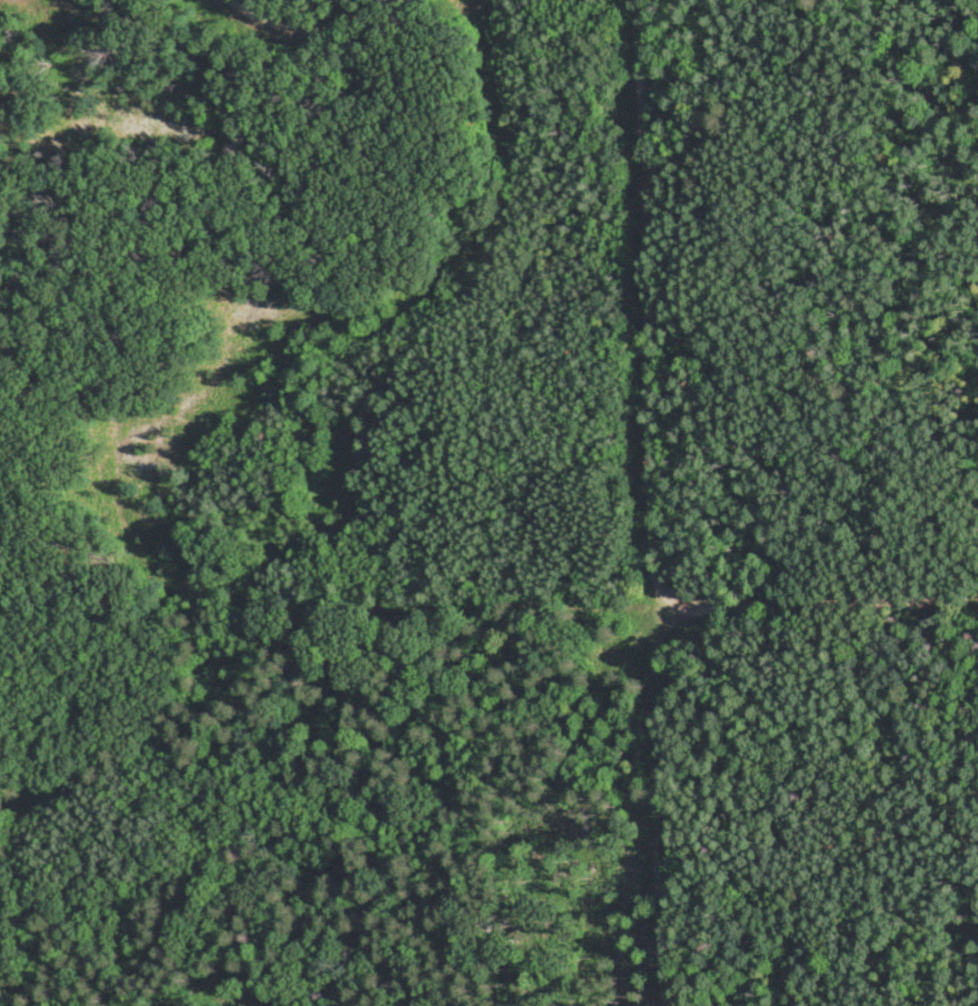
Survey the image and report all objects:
road: (310, 32)
road: (650, 304)
road: (822, 605)

